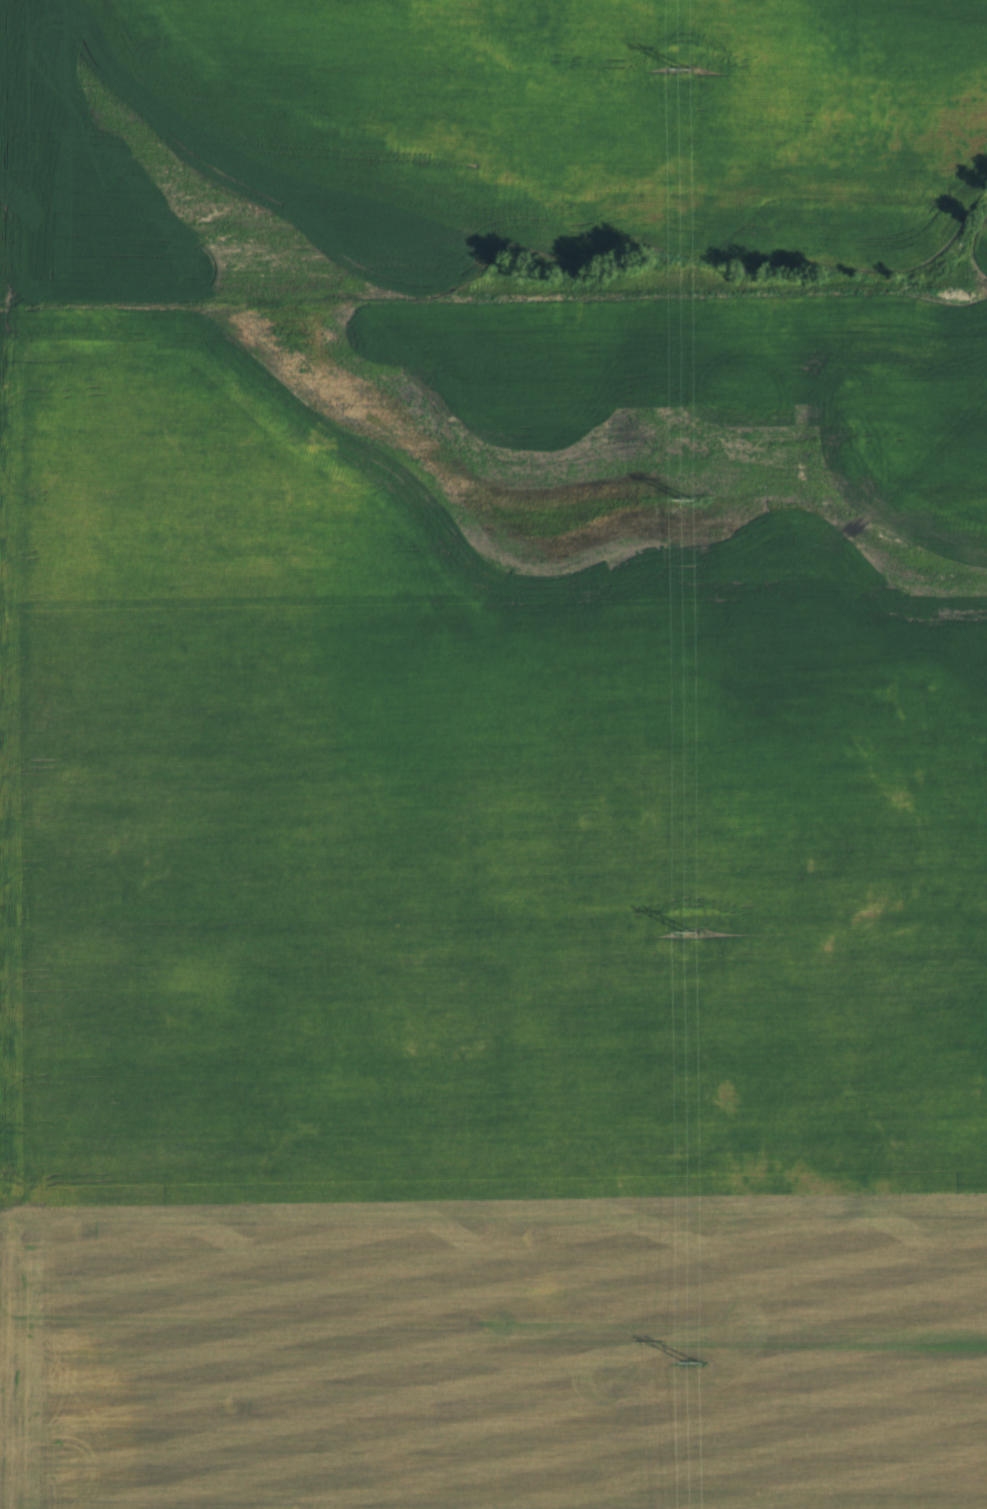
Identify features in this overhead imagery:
power tower: (682, 68)
power tower: (687, 498)
power tower: (688, 934)
power tower: (691, 1362)

